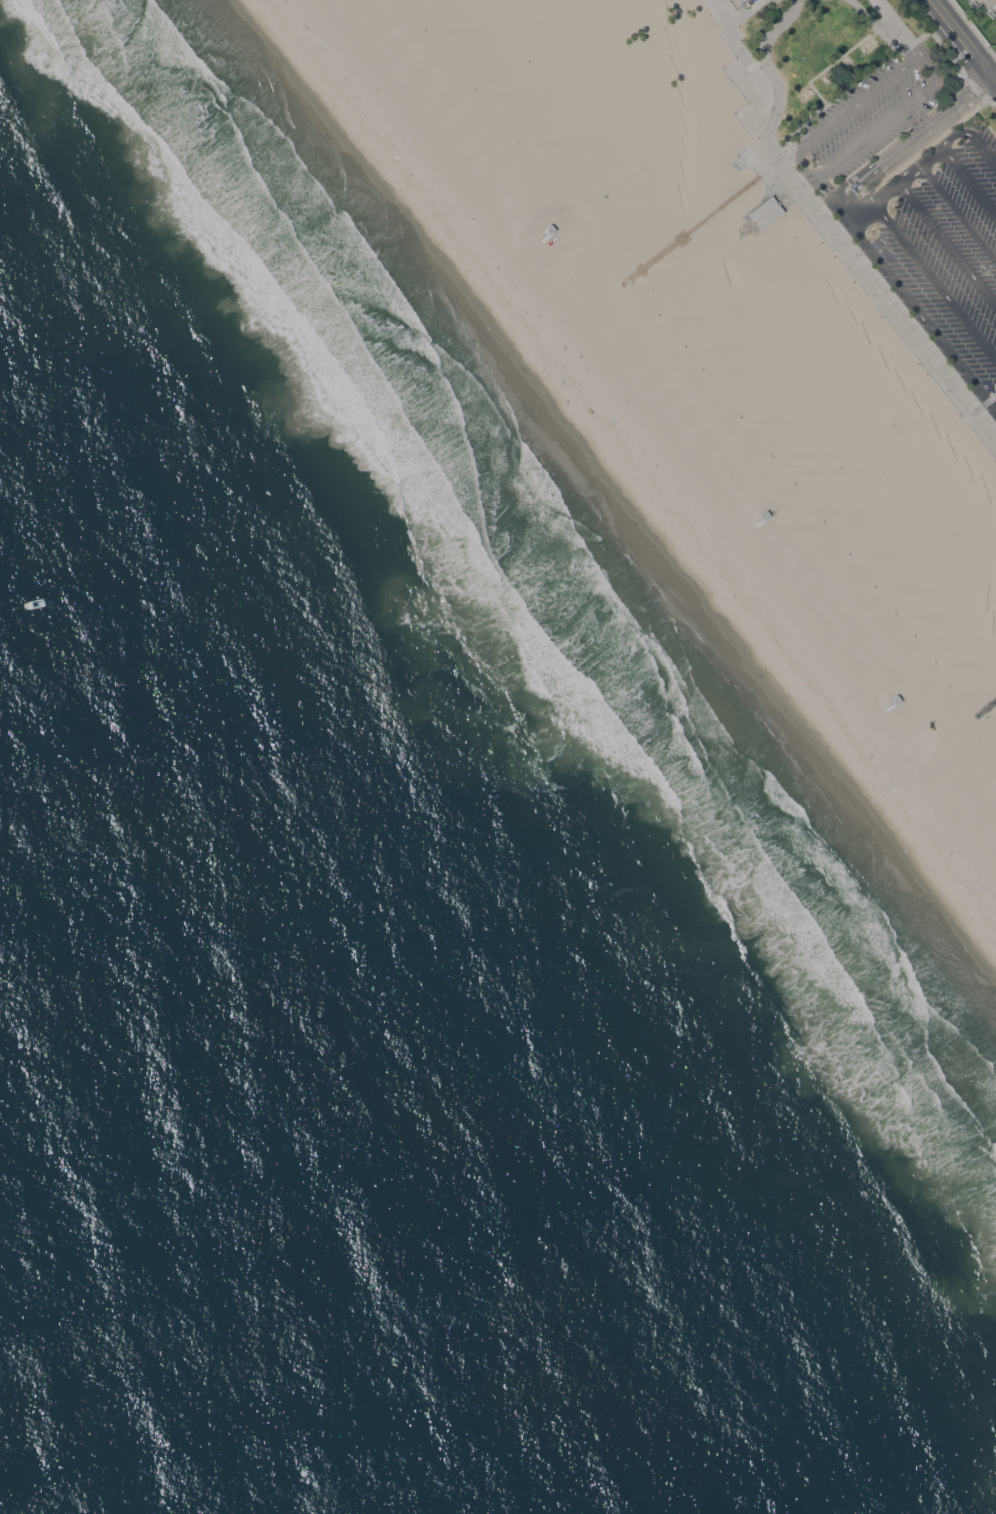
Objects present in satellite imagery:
building: (739, 3)
building: (985, 6)
park: (560, 15)
road: (897, 28)
road: (973, 28)
road: (963, 41)
park: (995, 51)
park: (825, 53)
park: (942, 58)
road: (811, 76)
road: (984, 84)
road: (976, 90)
road: (951, 104)
road: (920, 112)
road: (930, 124)
road: (821, 128)
road: (935, 129)
road: (930, 136)
road: (933, 141)
road: (936, 151)
road: (883, 156)
road: (887, 163)
road: (969, 181)
road: (872, 190)
road: (846, 204)
parking lot: (917, 210)
building: (764, 211)
road: (958, 213)
road: (698, 221)
road: (833, 227)
building: (548, 230)
road: (828, 239)
road: (947, 245)
road: (935, 280)
road: (913, 307)
road: (995, 395)
road: (976, 409)
building: (768, 525)
building: (896, 698)
road: (986, 706)

